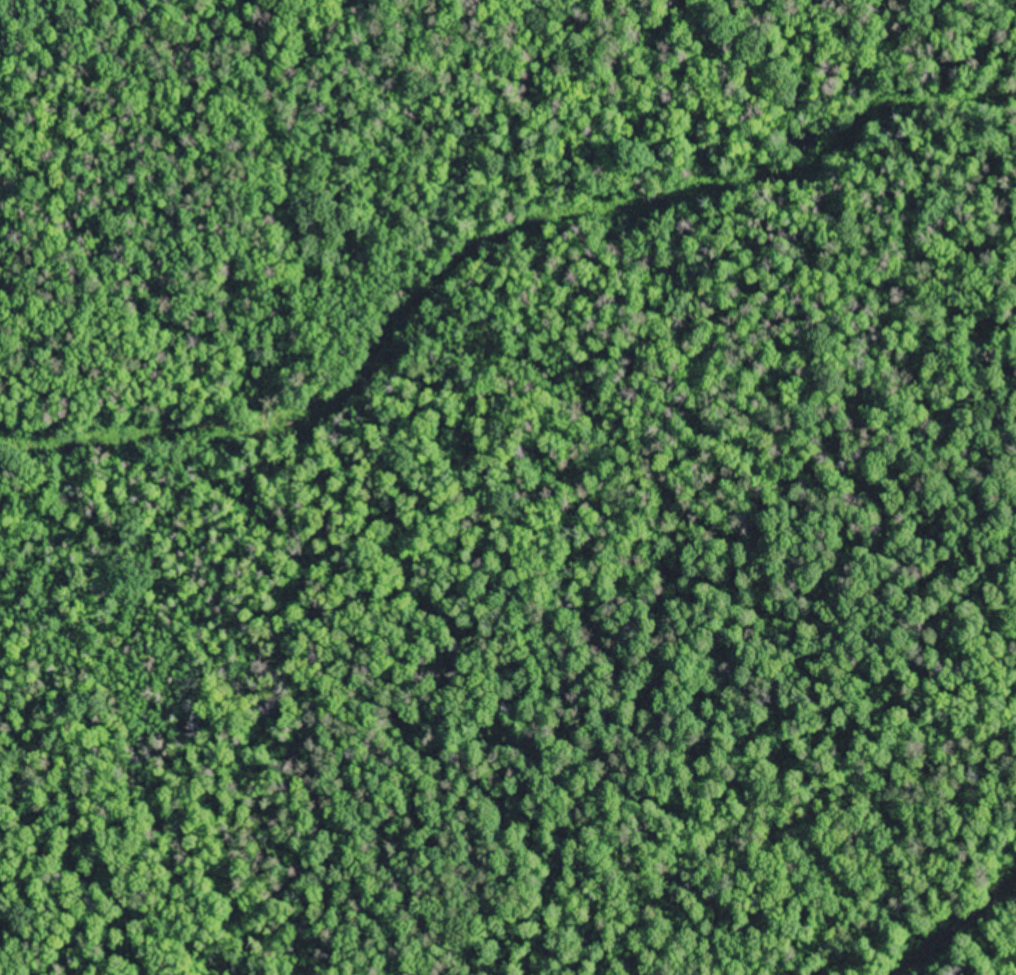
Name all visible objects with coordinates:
road: (942, 875)

